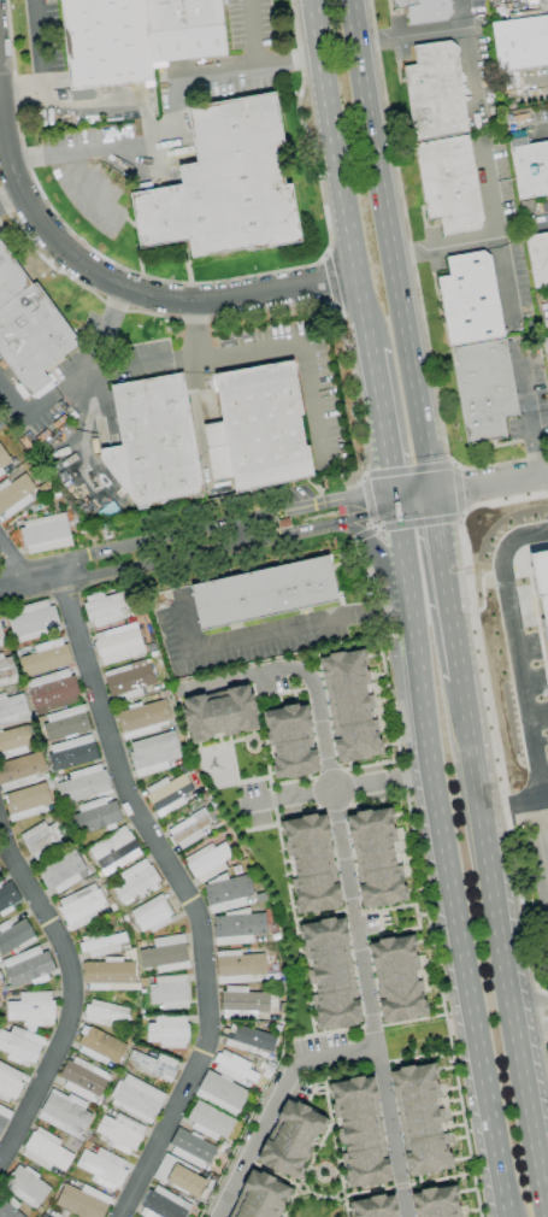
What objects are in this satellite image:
building: (425, 10)
building: (184, 29)
road: (409, 30)
road: (251, 31)
building: (106, 42)
building: (520, 42)
road: (470, 57)
road: (287, 60)
road: (41, 65)
building: (435, 92)
road: (541, 130)
road: (107, 151)
road: (71, 160)
building: (530, 167)
road: (338, 176)
building: (225, 184)
building: (449, 184)
road: (10, 193)
road: (499, 237)
road: (444, 246)
road: (390, 248)
building: (538, 258)
building: (10, 277)
road: (142, 288)
building: (470, 299)
road: (198, 331)
building: (33, 336)
building: (546, 347)
road: (200, 361)
road: (87, 377)
road: (523, 384)
building: (483, 389)
road: (382, 427)
building: (258, 428)
building: (153, 441)
road: (534, 443)
building: (2, 459)
road: (408, 472)
road: (472, 487)
road: (458, 492)
building: (14, 495)
traffic signals: (432, 496)
traffic signals: (396, 500)
road: (367, 504)
road: (417, 522)
road: (198, 531)
building: (46, 533)
road: (361, 535)
road: (437, 541)
road: (376, 546)
road: (200, 553)
road: (14, 570)
building: (541, 581)
building: (264, 593)
road: (444, 596)
building: (106, 607)
building: (34, 621)
road: (409, 621)
road: (285, 629)
building: (1, 637)
road: (452, 642)
building: (119, 643)
building: (45, 657)
road: (517, 657)
building: (6, 669)
building: (128, 681)
building: (53, 689)
building: (348, 705)
road: (461, 706)
building: (12, 709)
building: (219, 712)
building: (141, 718)
building: (66, 723)
road: (254, 736)
building: (289, 740)
building: (16, 741)
road: (491, 741)
building: (72, 753)
building: (154, 753)
building: (20, 771)
building: (84, 784)
road: (337, 788)
building: (167, 794)
road: (271, 800)
building: (26, 801)
road: (547, 811)
road: (519, 816)
building: (94, 817)
building: (188, 831)
building: (43, 839)
building: (113, 849)
road: (418, 851)
building: (375, 857)
building: (207, 862)
building: (310, 862)
building: (61, 872)
building: (136, 883)
road: (349, 884)
road: (183, 889)
building: (228, 892)
building: (7, 898)
building: (81, 906)
building: (152, 913)
road: (293, 922)
building: (238, 927)
building: (14, 936)
building: (101, 943)
building: (165, 954)
building: (28, 966)
building: (238, 966)
road: (507, 968)
building: (329, 972)
building: (110, 975)
building: (396, 978)
road: (465, 978)
road: (72, 992)
building: (170, 992)
building: (242, 1003)
road: (531, 1005)
building: (31, 1009)
building: (106, 1015)
road: (413, 1021)
road: (532, 1025)
road: (372, 1027)
building: (169, 1031)
road: (328, 1033)
building: (247, 1039)
building: (20, 1046)
building: (100, 1046)
building: (155, 1065)
building: (234, 1068)
road: (329, 1076)
building: (83, 1078)
building: (10, 1083)
building: (222, 1093)
building: (136, 1098)
road: (276, 1101)
building: (65, 1113)
building: (4, 1117)
building: (419, 1118)
building: (210, 1121)
road: (328, 1125)
building: (358, 1131)
building: (120, 1133)
building: (290, 1139)
building: (191, 1148)
building: (46, 1151)
building: (102, 1168)
building: (178, 1175)
building: (26, 1186)
building: (259, 1197)
building: (83, 1201)
building: (435, 1201)
building: (163, 1204)
road: (478, 1204)
building: (8, 1206)
building: (372, 1206)
building: (57, 1215)

